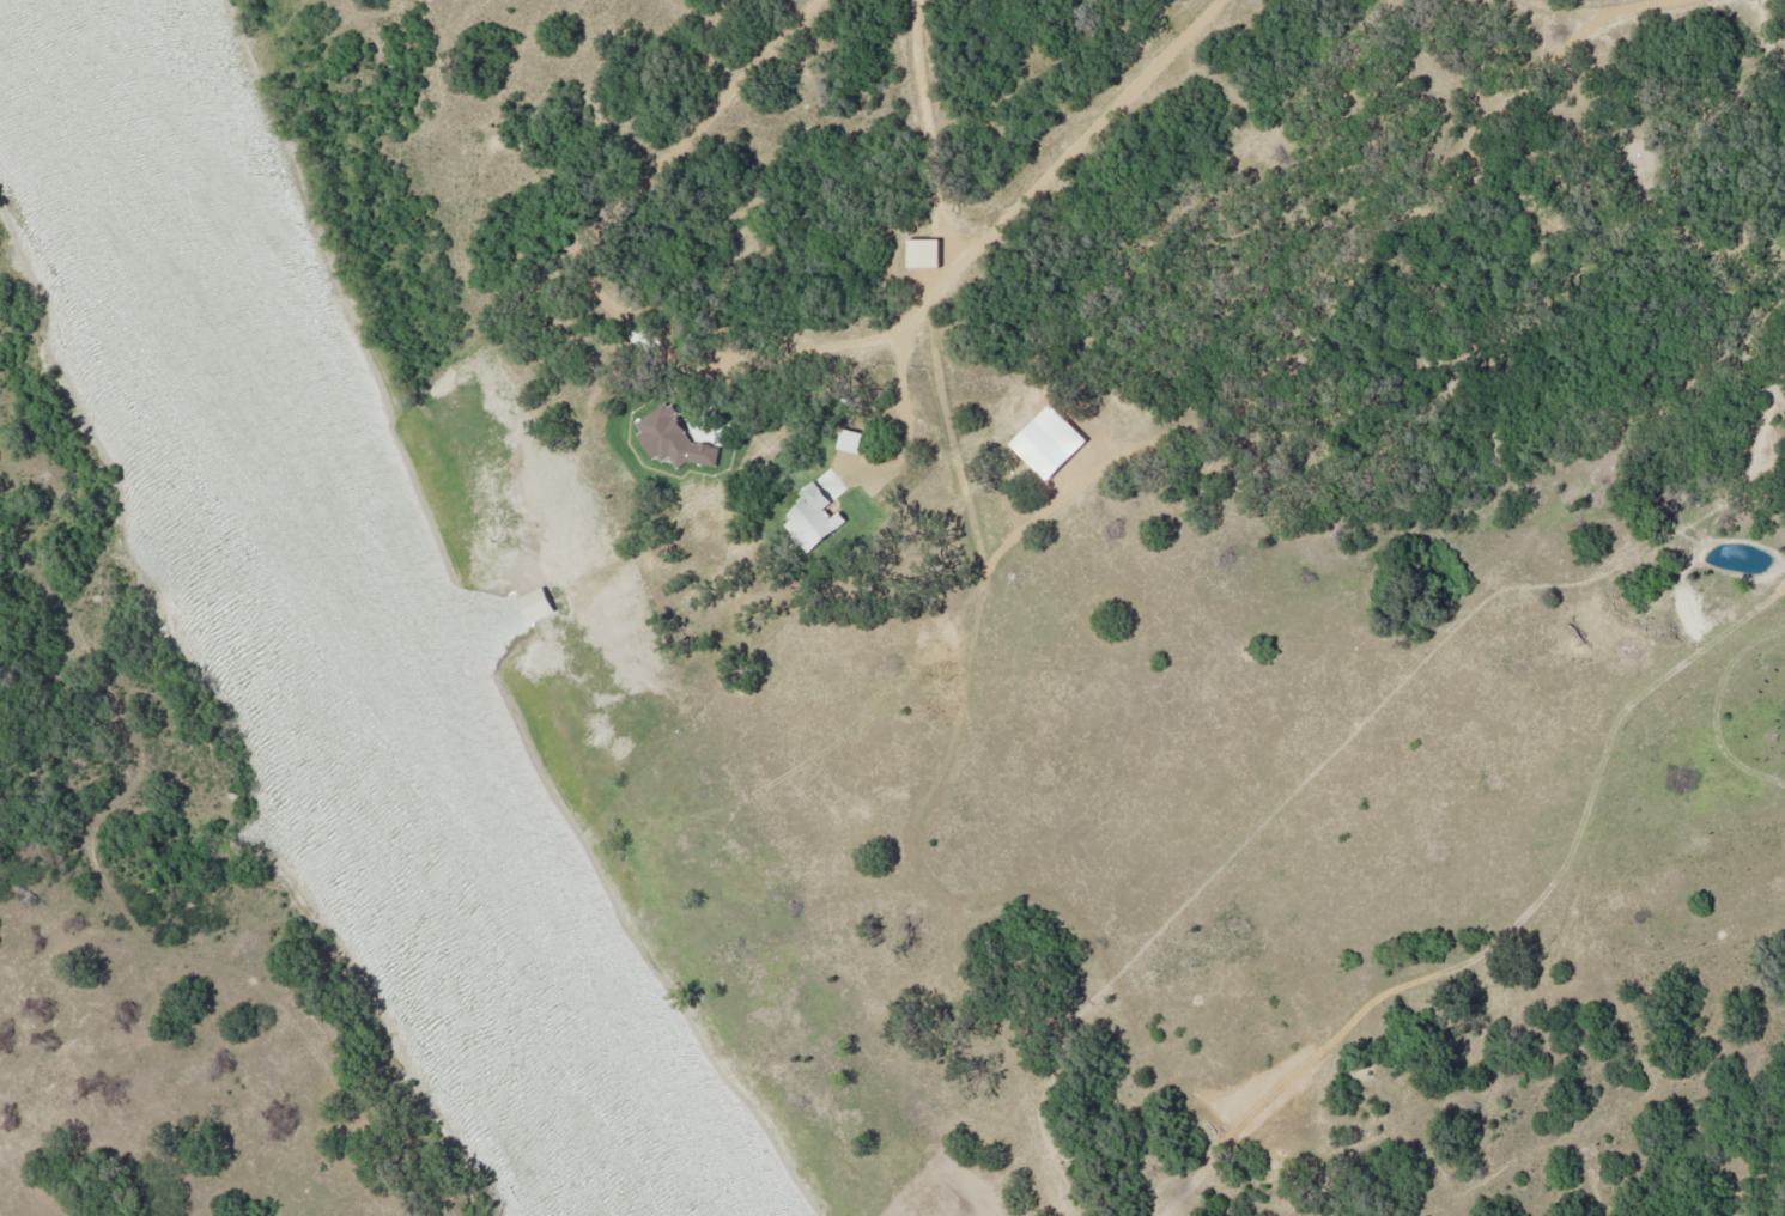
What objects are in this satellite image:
road: (1596, 17)
river: (350, 608)
road: (969, 625)

